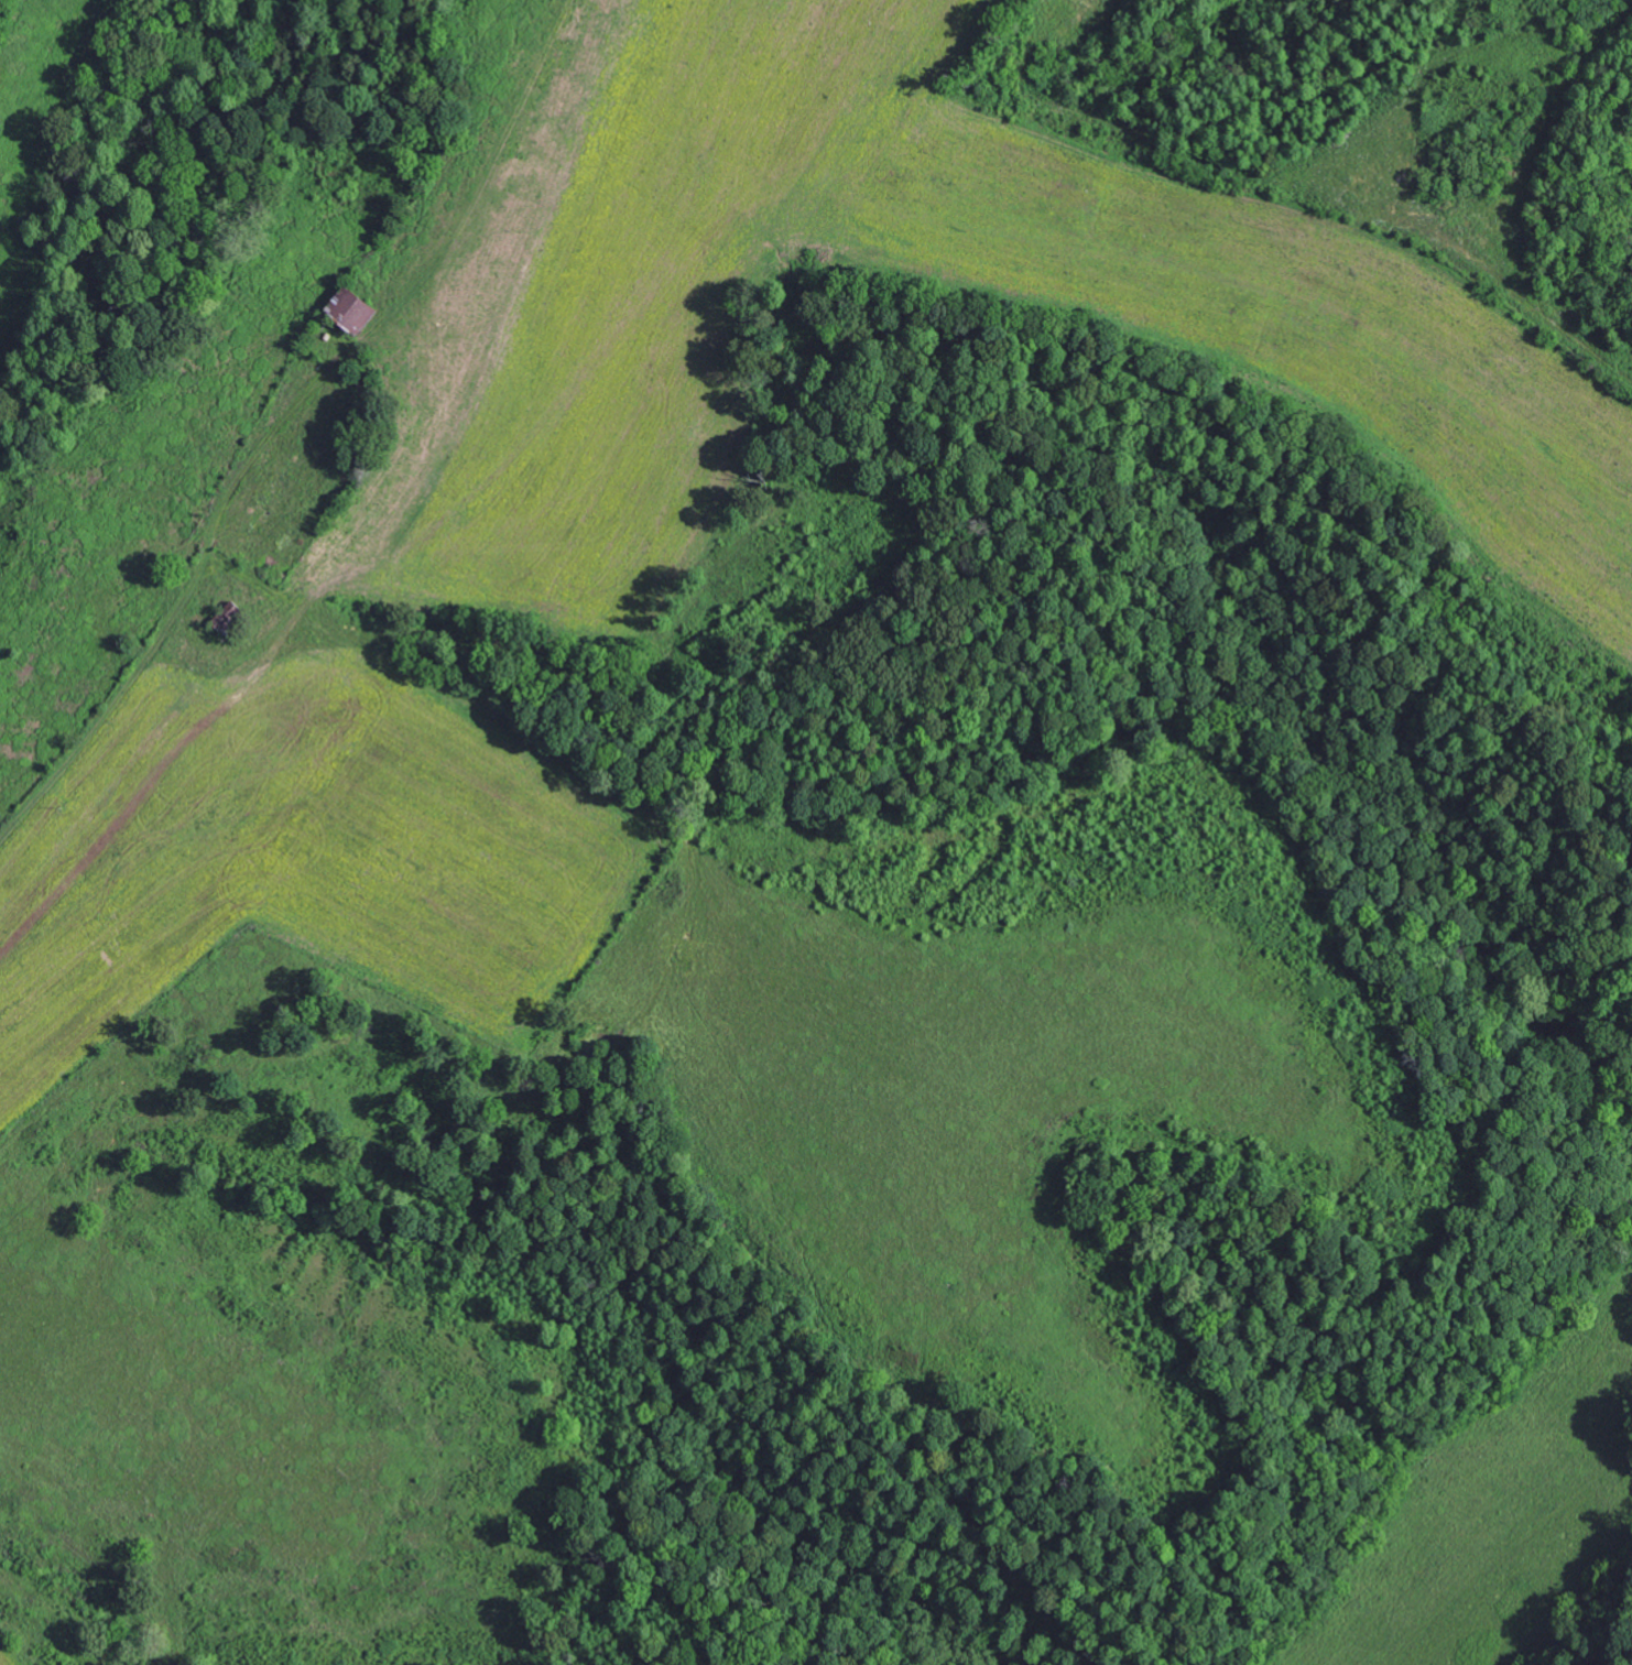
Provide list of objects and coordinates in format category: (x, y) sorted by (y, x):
building: (344, 308)

